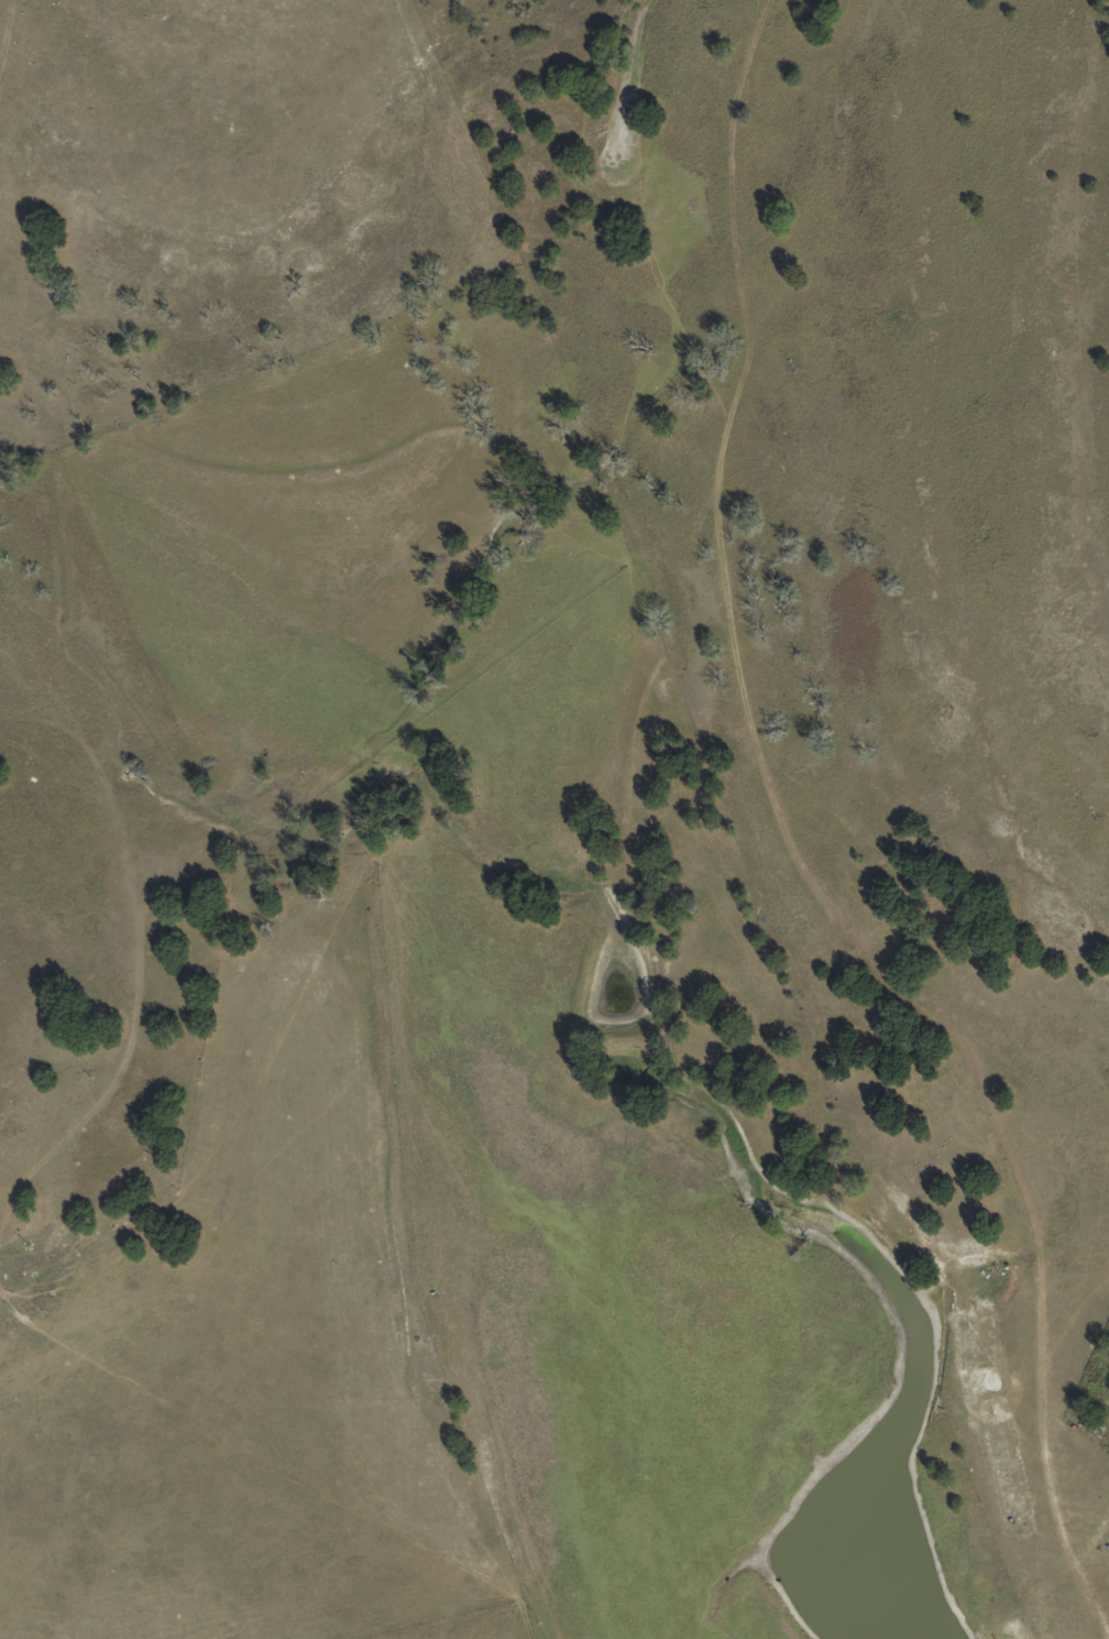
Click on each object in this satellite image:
building: (1107, 1347)

